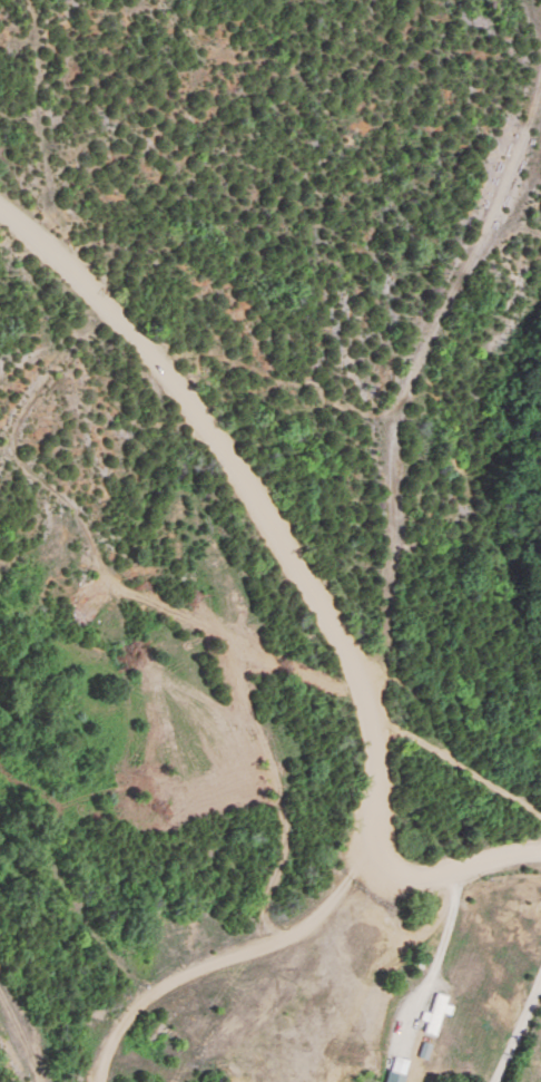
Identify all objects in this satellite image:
road: (298, 575)
road: (519, 1031)

